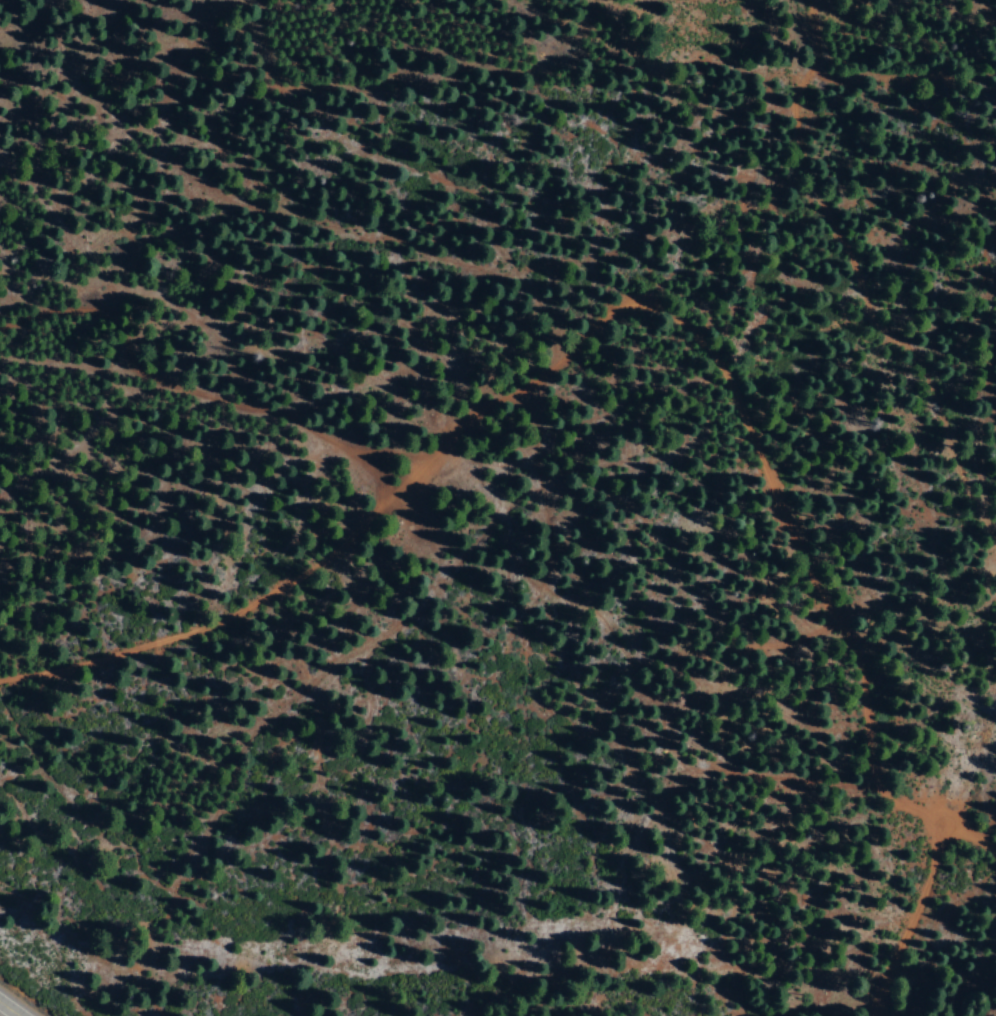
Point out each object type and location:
road: (555, 354)
road: (865, 404)
road: (957, 680)
road: (961, 845)
road: (909, 925)
road: (4, 1012)

